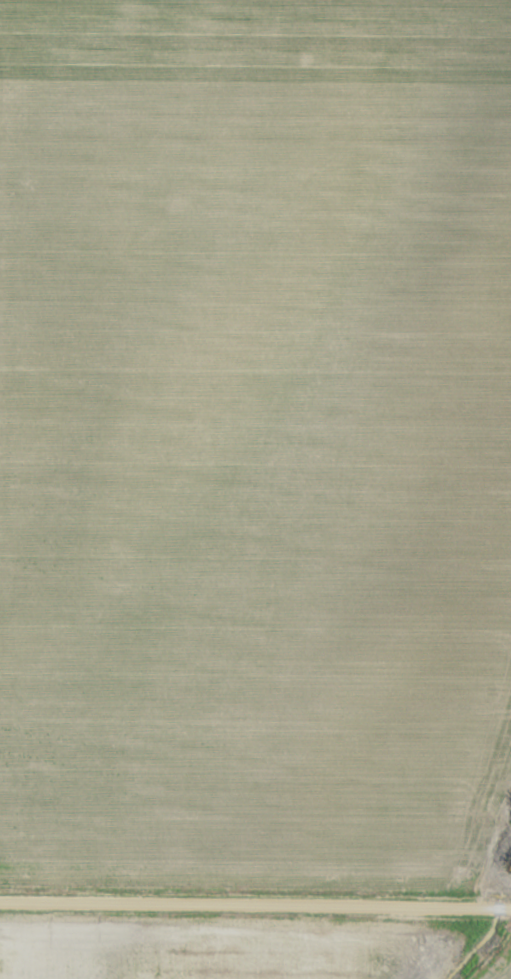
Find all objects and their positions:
road: (255, 908)

